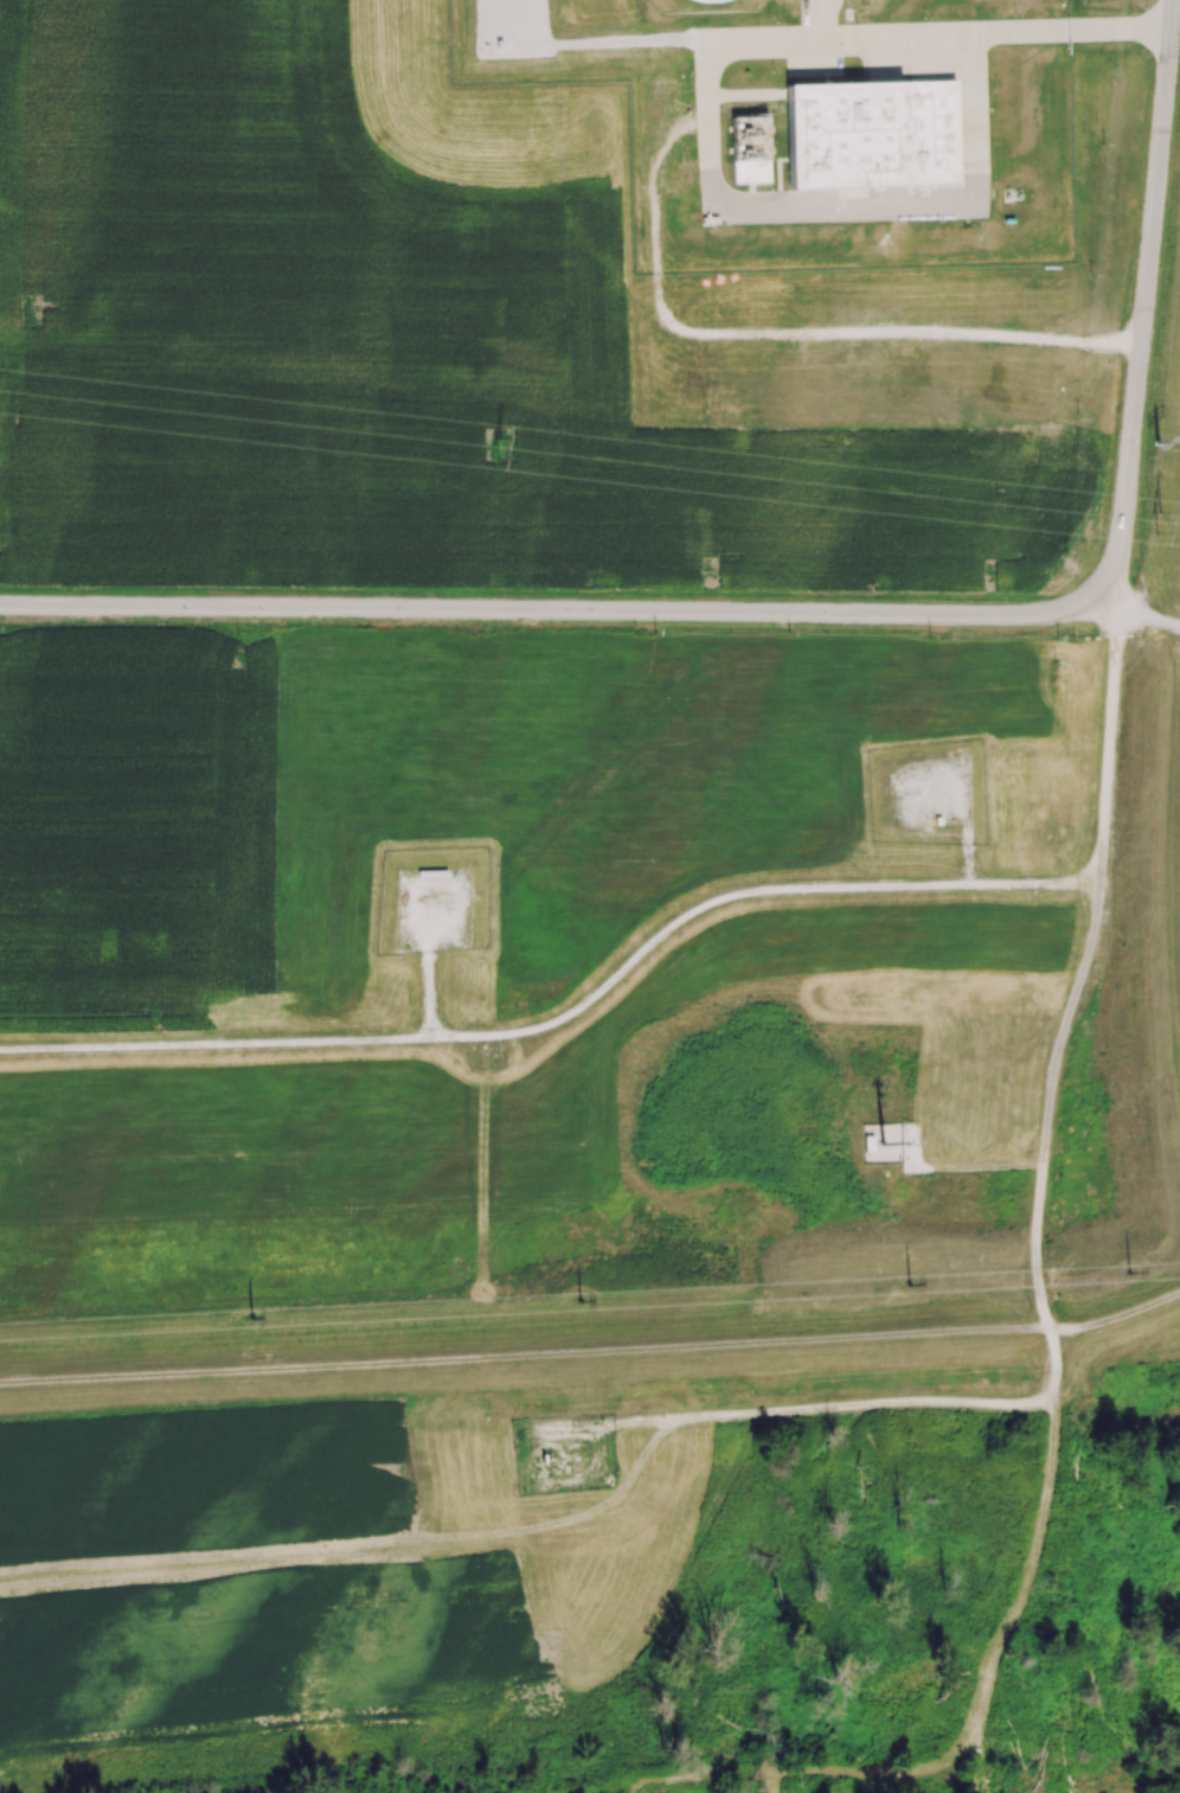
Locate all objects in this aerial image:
road: (1120, 30)
road: (908, 34)
road: (1146, 293)
crop: (479, 334)
power tower: (1159, 444)
power tower: (500, 448)
power tower: (1160, 523)
park: (1159, 583)
road: (558, 609)
road: (1044, 1166)
power tower: (1130, 1275)
power tower: (908, 1286)
power tower: (581, 1302)
road: (1116, 1317)
power tower: (252, 1319)
road: (526, 1352)
road: (841, 1768)

